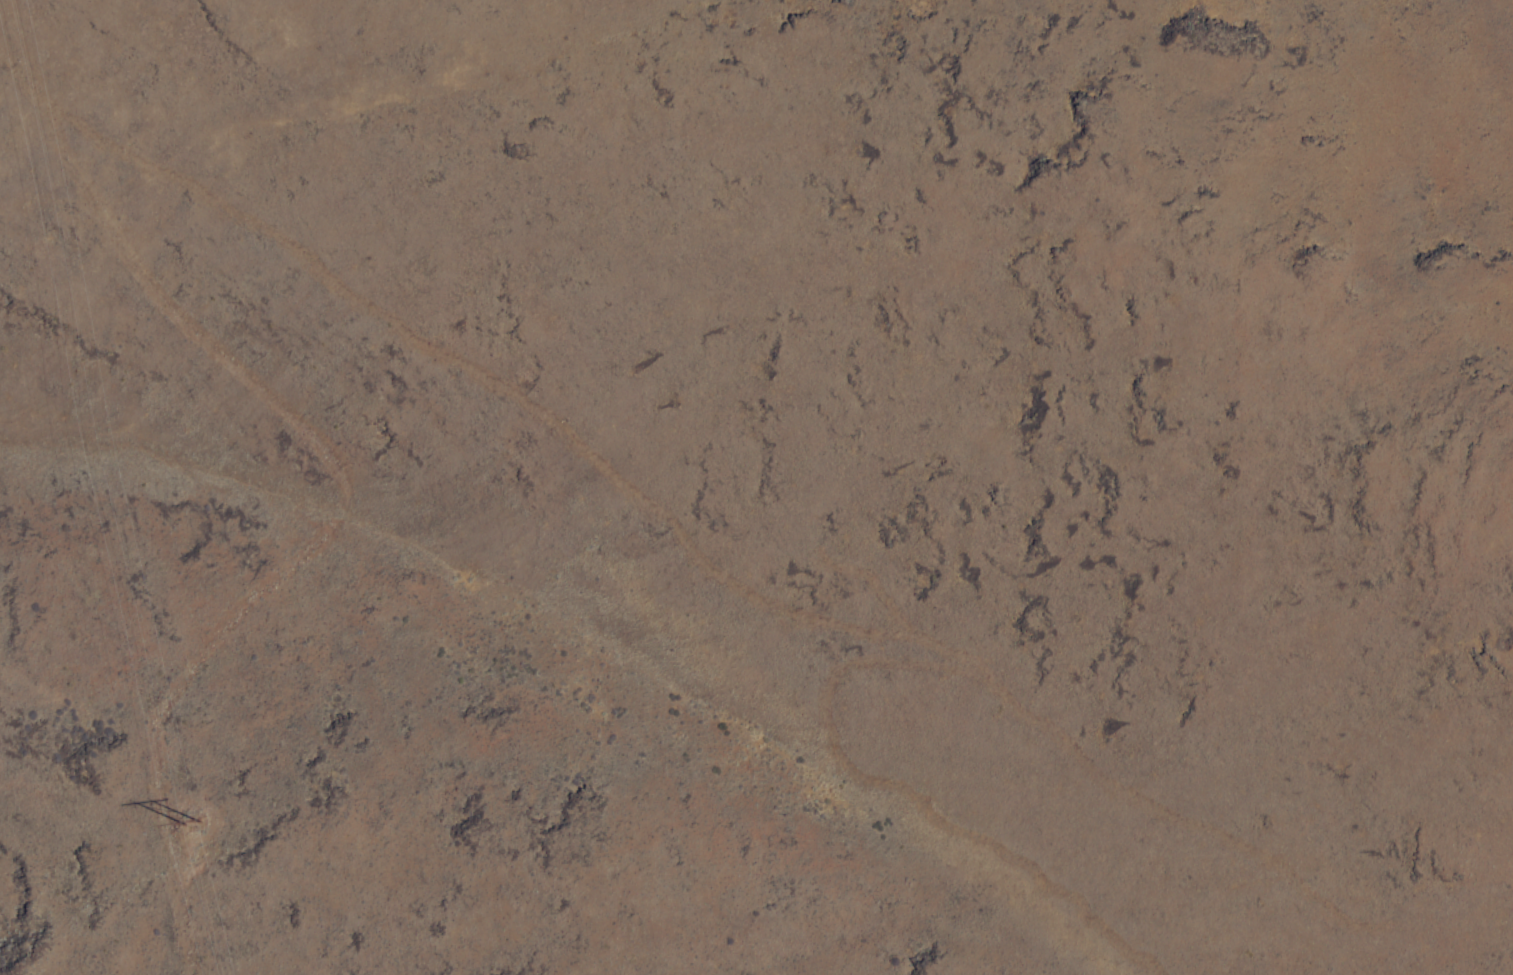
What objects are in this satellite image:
power tower: (189, 822)

